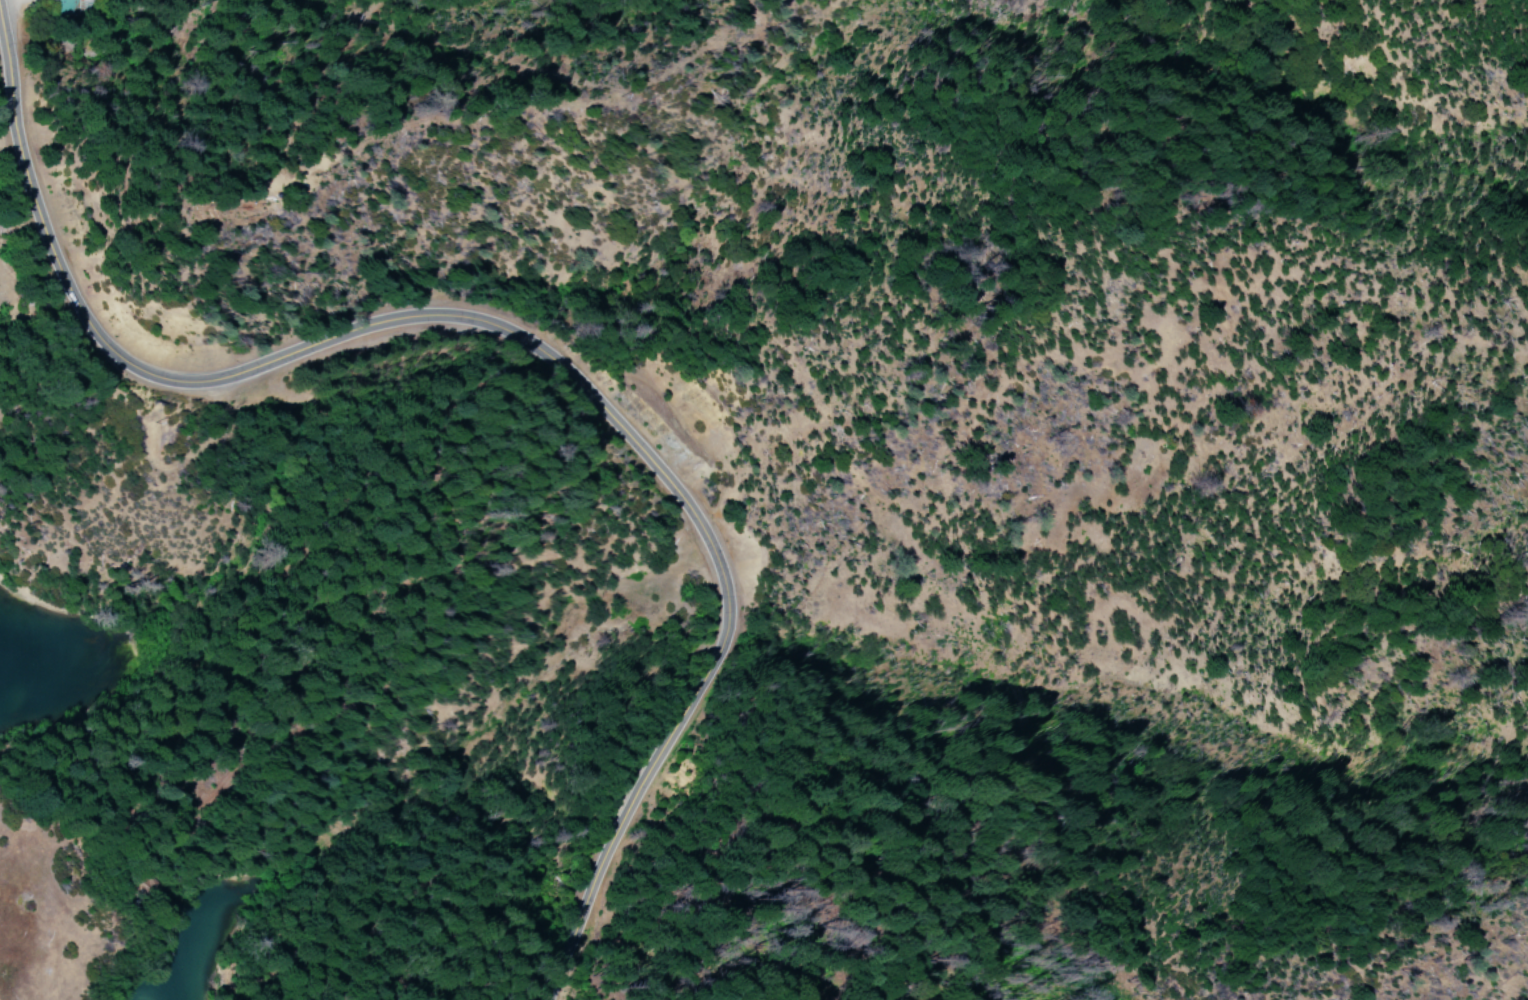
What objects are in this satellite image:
building: (68, 7)
road: (164, 157)
road: (511, 334)
road: (329, 637)
road: (478, 808)

